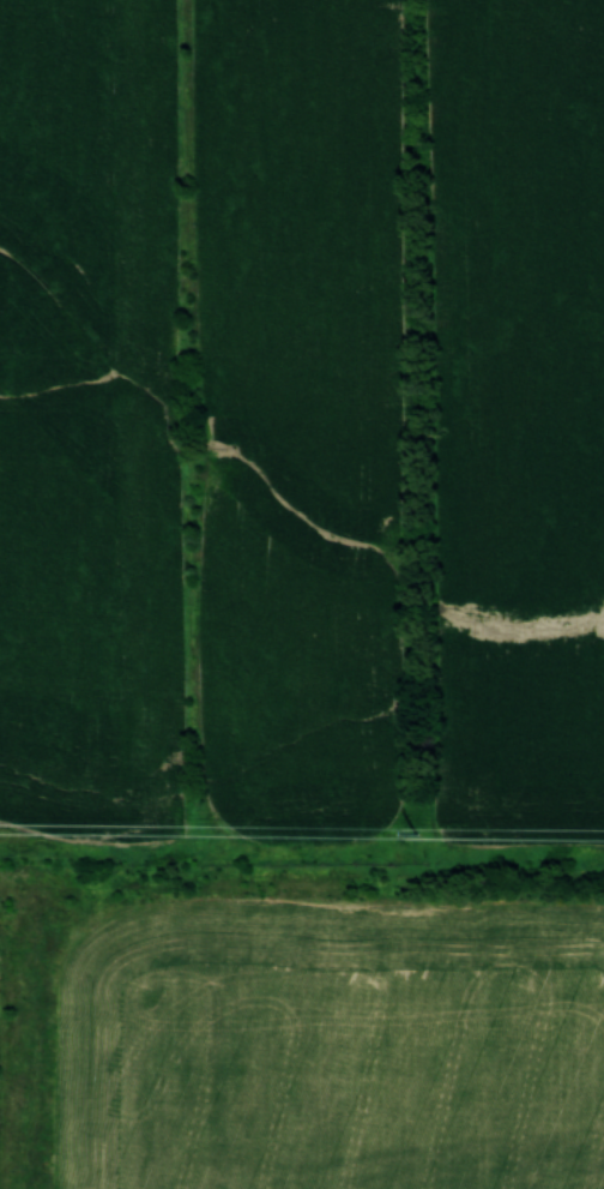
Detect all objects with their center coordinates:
crop: (302, 415)
crop: (518, 416)
crop: (90, 424)
power tower: (413, 833)

